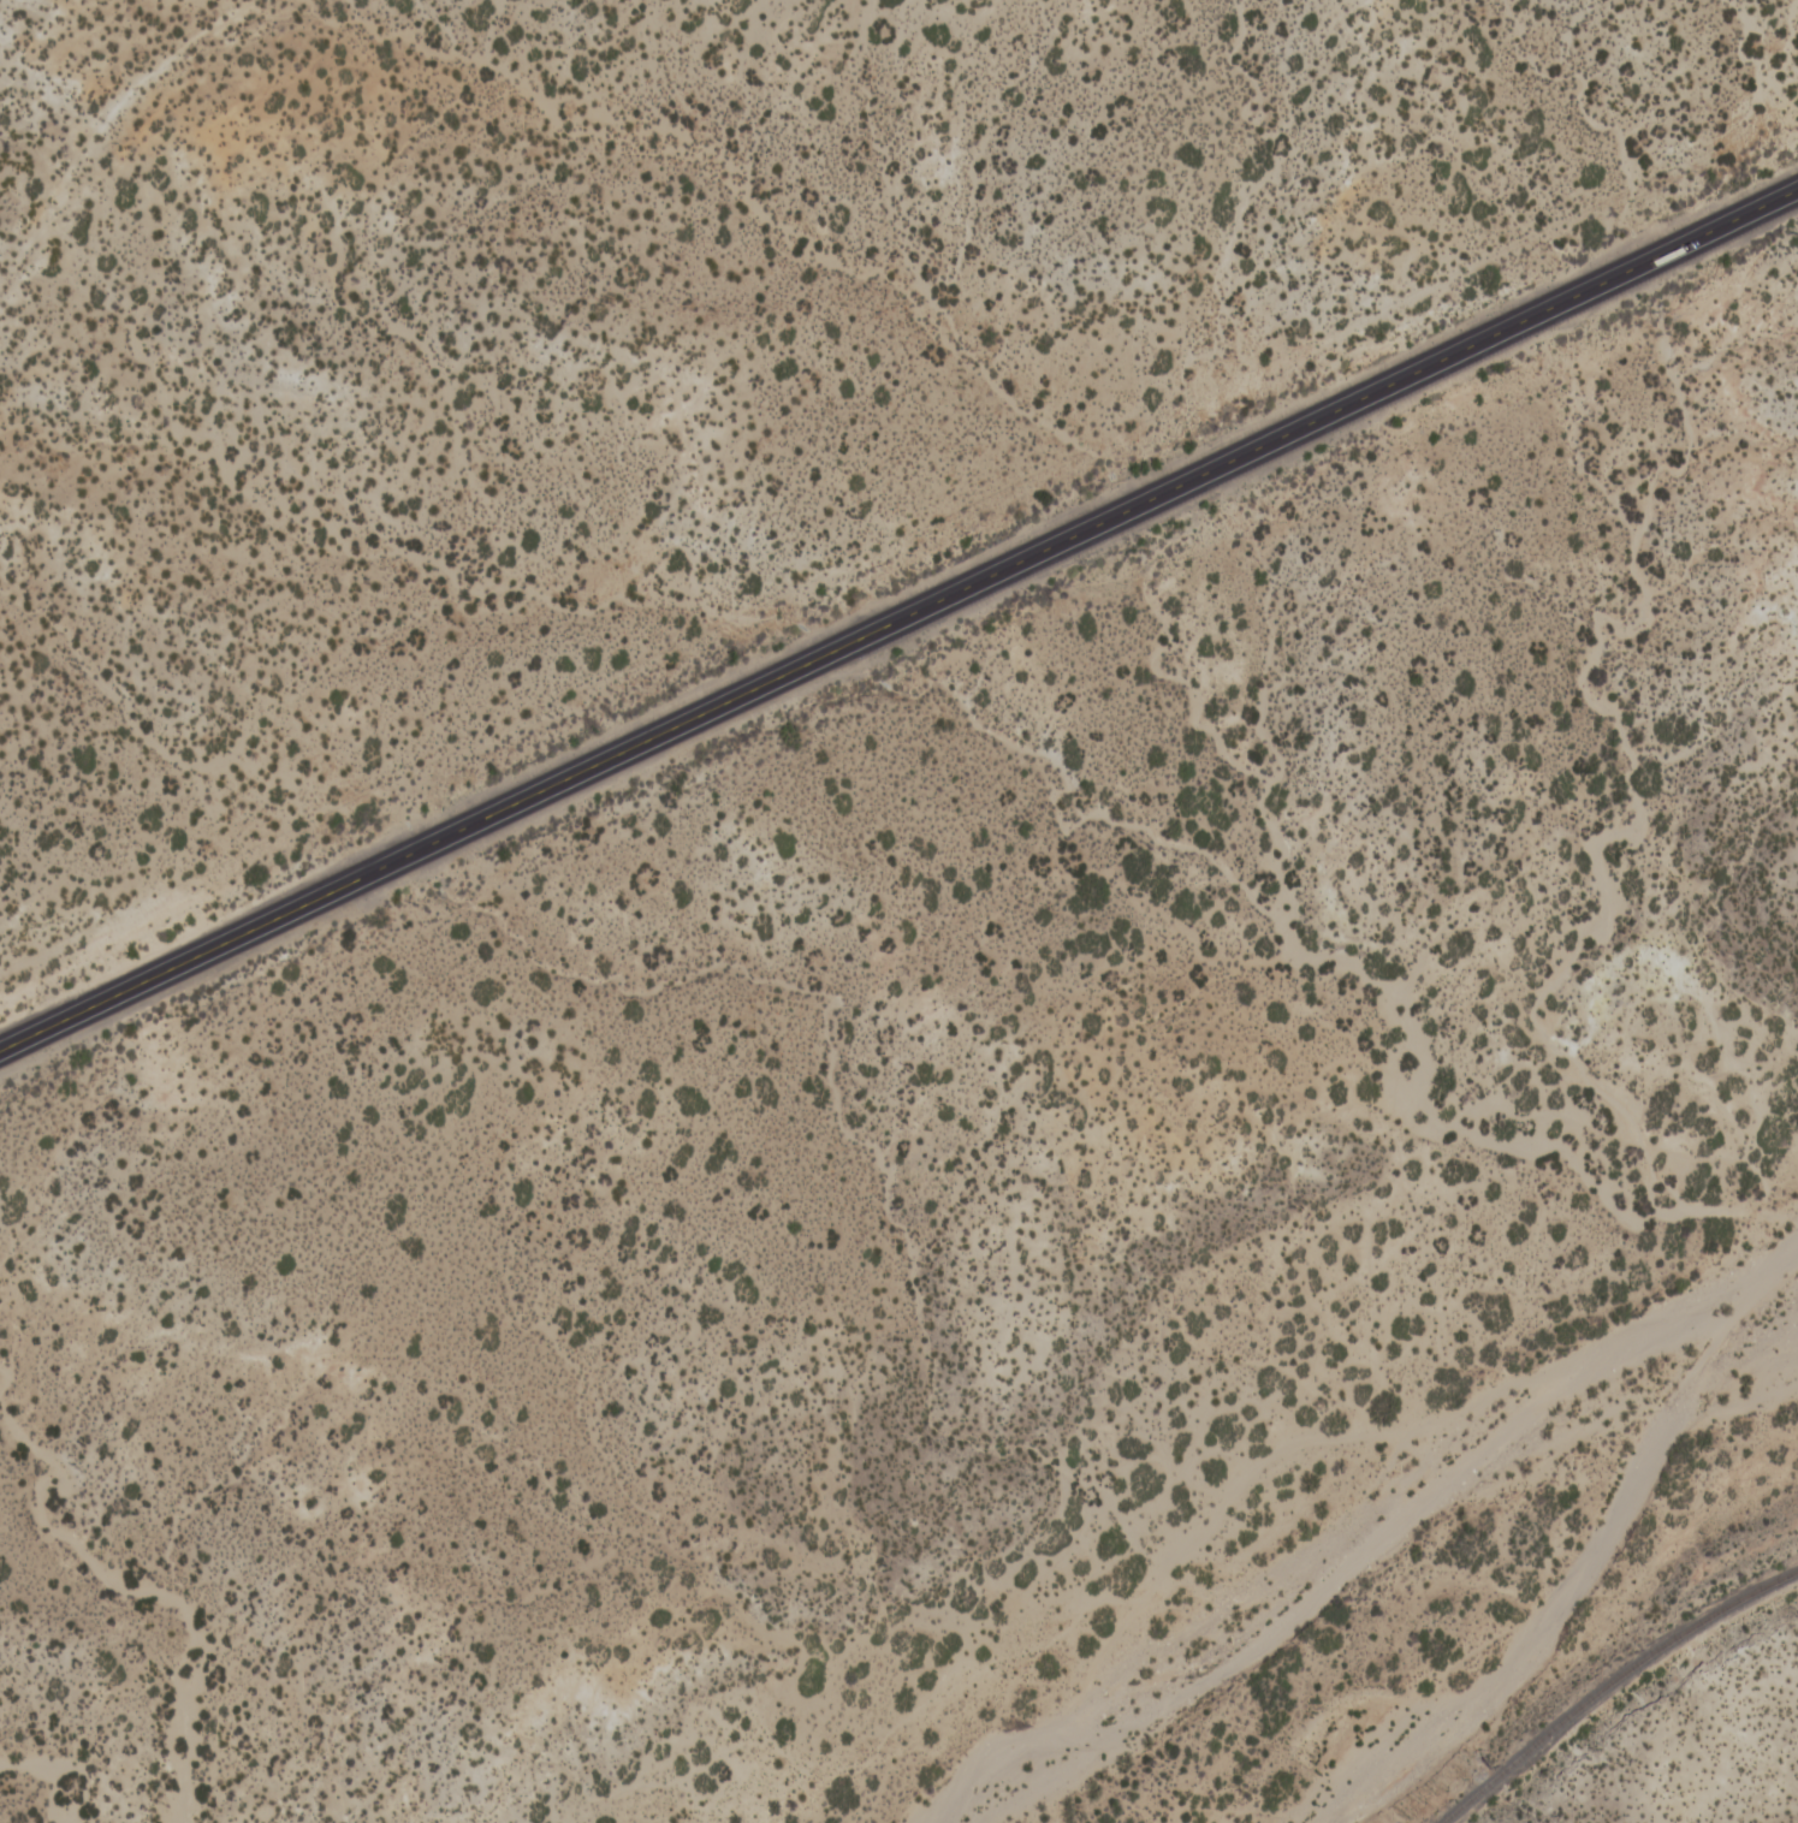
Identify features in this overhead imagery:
road: (898, 616)
river: (1354, 1507)
railway: (1609, 1681)

